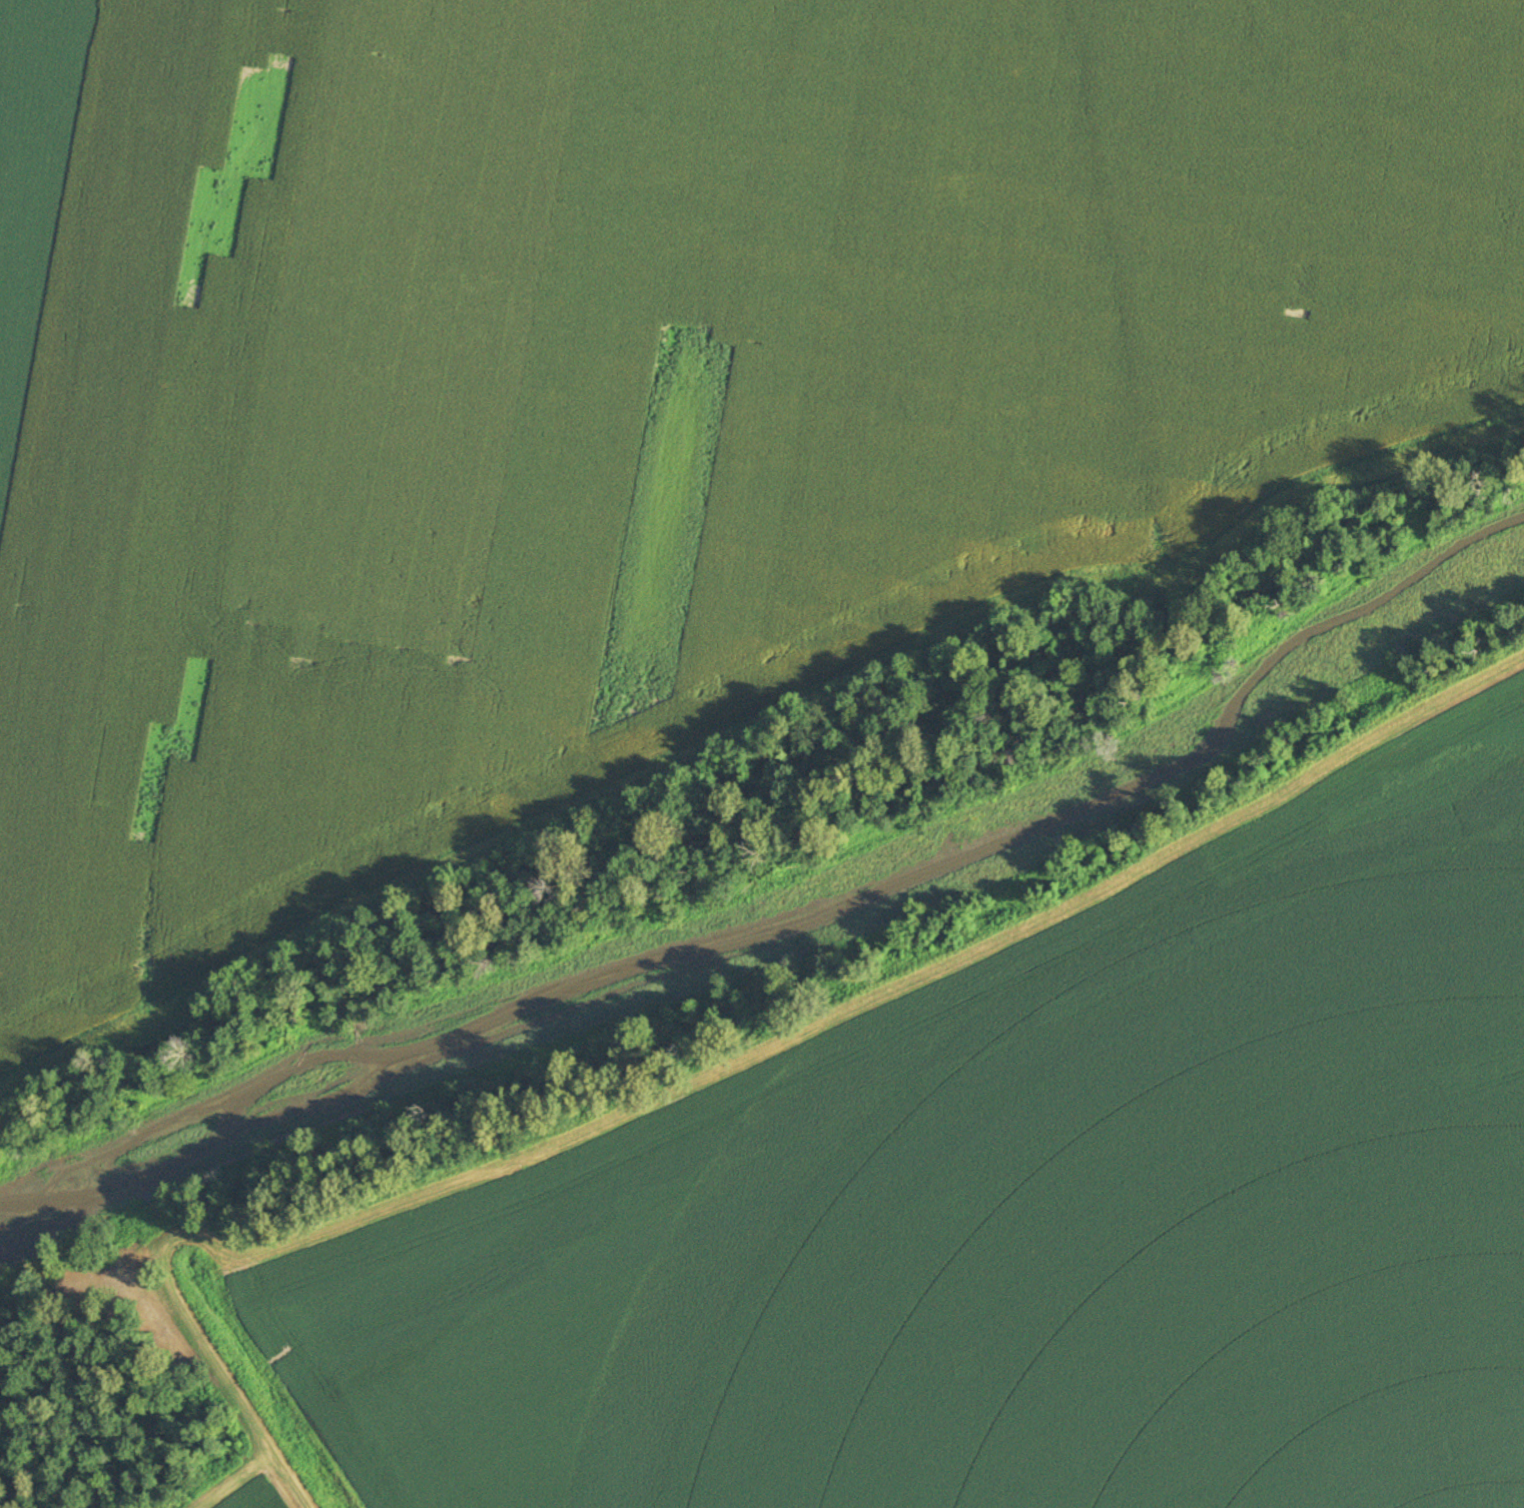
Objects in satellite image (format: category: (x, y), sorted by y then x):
river: (346, 1076)

